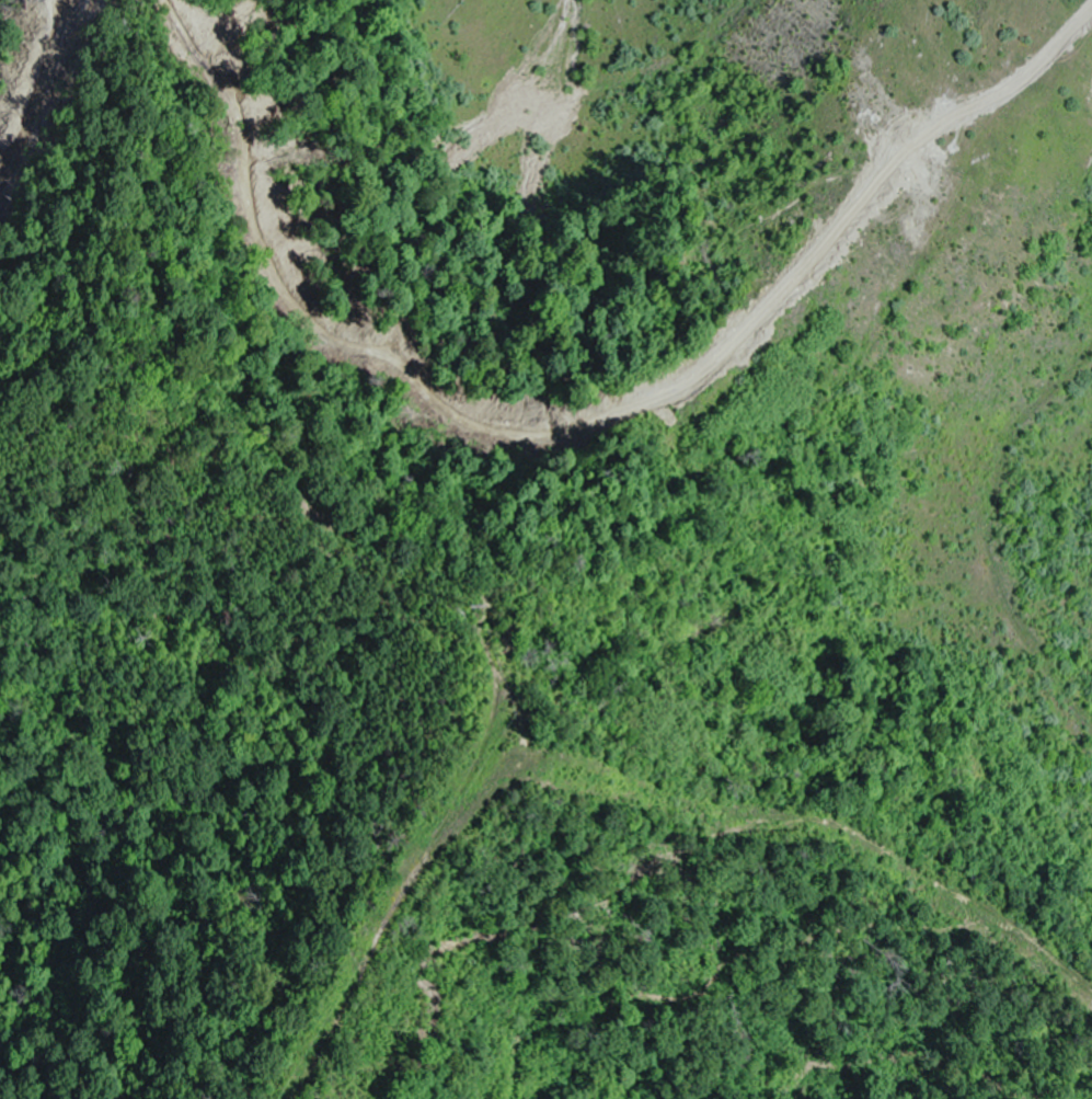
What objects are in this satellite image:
road: (456, 881)

